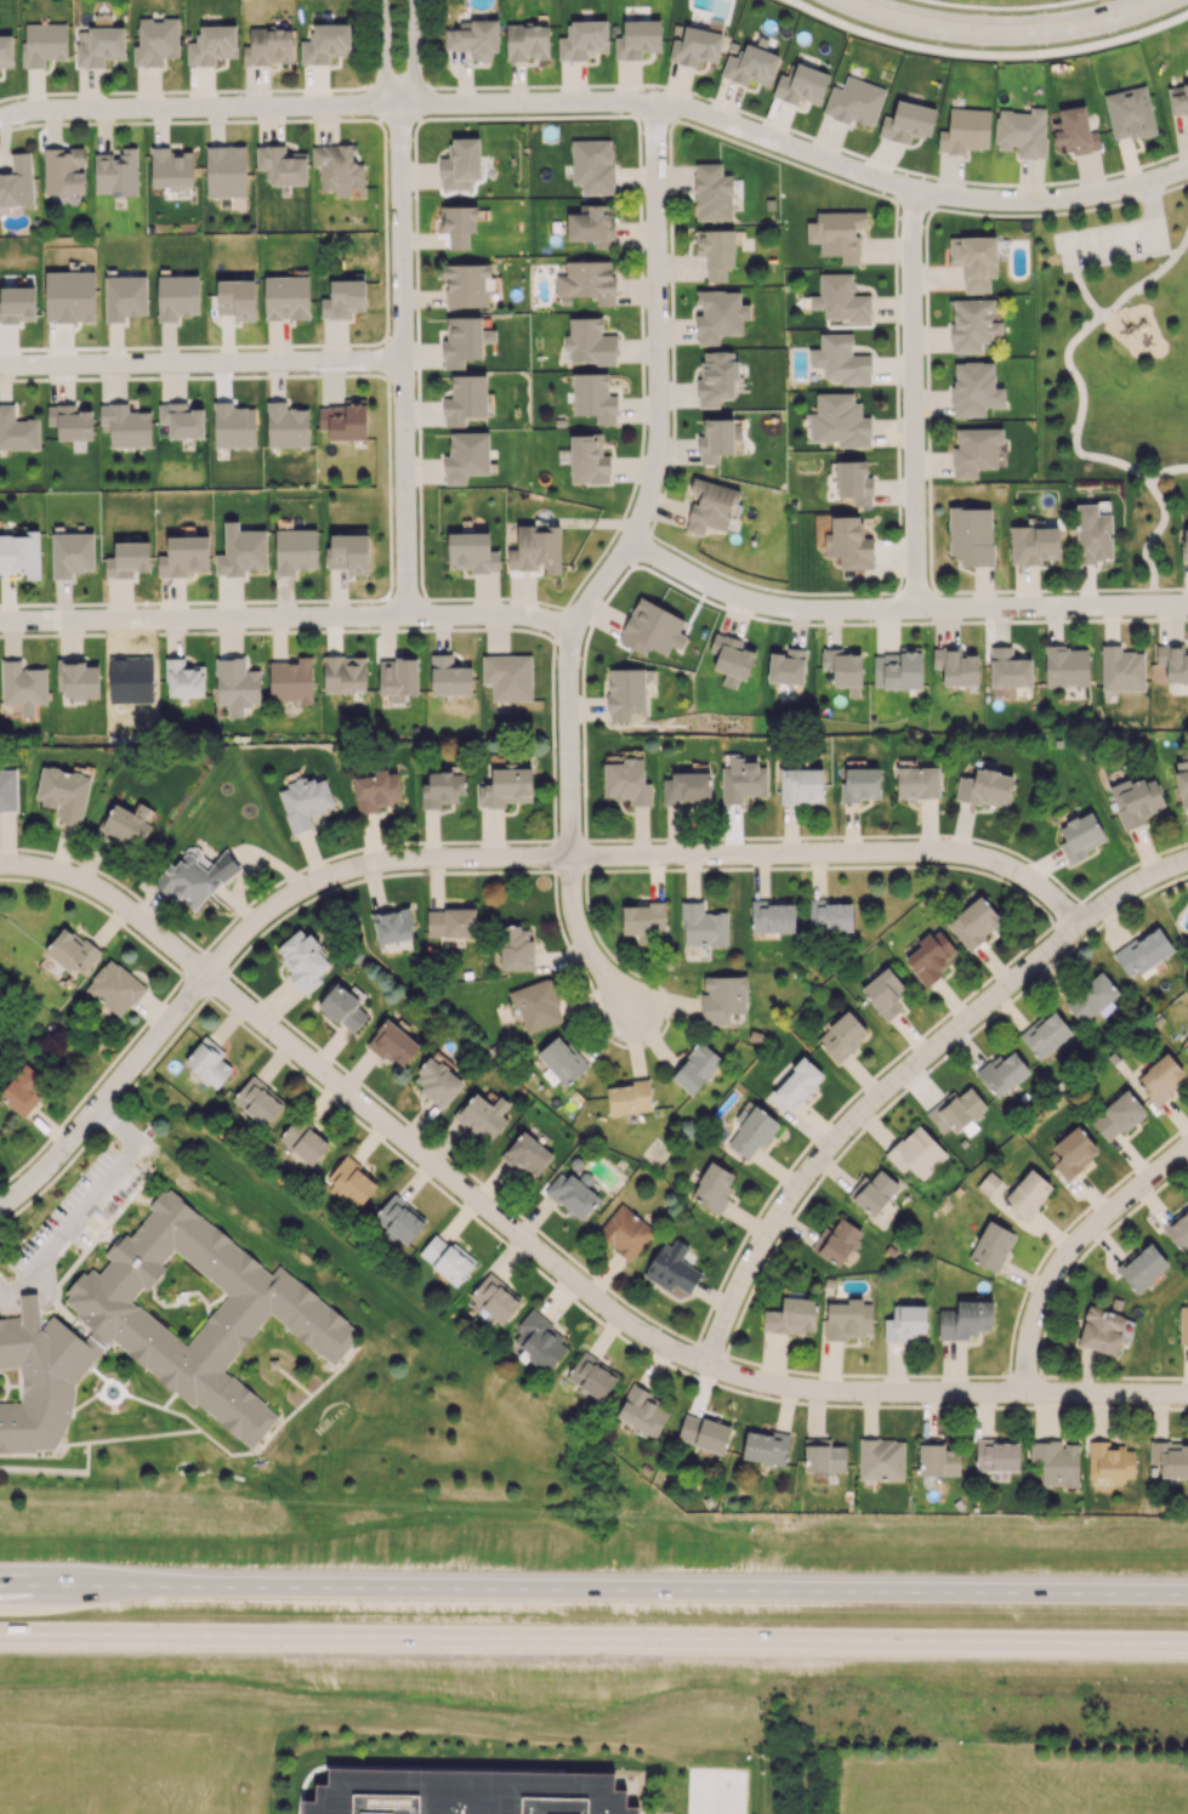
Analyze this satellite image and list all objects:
road: (1005, 32)
building: (474, 39)
building: (582, 39)
building: (637, 39)
building: (155, 41)
building: (527, 41)
building: (42, 42)
building: (325, 42)
building: (212, 44)
building: (98, 45)
building: (695, 45)
building: (268, 46)
road: (995, 46)
building: (6, 51)
road: (411, 53)
road: (383, 55)
building: (750, 66)
building: (801, 84)
building: (1178, 98)
building: (854, 101)
road: (603, 103)
building: (1129, 113)
building: (908, 121)
building: (965, 130)
building: (1074, 131)
building: (1022, 132)
building: (460, 164)
building: (280, 165)
building: (592, 165)
building: (170, 167)
building: (337, 167)
building: (63, 170)
building: (115, 171)
building: (226, 171)
building: (17, 182)
building: (712, 192)
building: (457, 224)
building: (591, 226)
road: (1129, 231)
building: (837, 233)
parking lot: (1112, 241)
road: (1161, 246)
building: (716, 251)
road: (1113, 258)
building: (974, 260)
building: (587, 280)
building: (465, 284)
road: (1080, 285)
building: (69, 296)
building: (177, 296)
building: (125, 297)
building: (285, 297)
building: (237, 298)
building: (343, 298)
building: (840, 298)
building: (17, 305)
building: (718, 314)
street lamp: (1096, 317)
building: (972, 324)
building: (464, 341)
building: (589, 341)
building: (840, 359)
road: (402, 360)
park: (1116, 360)
road: (200, 362)
road: (1074, 376)
building: (716, 377)
building: (974, 388)
building: (593, 397)
building: (465, 399)
road: (913, 399)
building: (181, 420)
building: (343, 420)
building: (839, 420)
building: (70, 421)
building: (125, 425)
building: (233, 425)
building: (286, 425)
building: (17, 430)
building: (715, 440)
building: (974, 450)
building: (466, 456)
building: (587, 459)
building: (854, 482)
road: (647, 491)
building: (710, 506)
road: (1155, 533)
building: (1092, 534)
building: (971, 535)
building: (1034, 544)
building: (1184, 544)
building: (536, 548)
building: (240, 550)
building: (295, 550)
building: (471, 552)
building: (21, 553)
building: (72, 553)
building: (348, 553)
building: (183, 556)
building: (127, 559)
road: (1085, 585)
road: (1136, 588)
road: (900, 609)
road: (288, 618)
building: (652, 629)
building: (732, 658)
building: (1172, 661)
building: (786, 666)
building: (955, 666)
building: (1065, 666)
building: (1008, 667)
building: (842, 669)
building: (898, 669)
building: (1121, 669)
building: (343, 673)
building: (449, 676)
building: (507, 677)
building: (76, 678)
building: (183, 678)
building: (397, 678)
building: (291, 681)
building: (23, 686)
building: (235, 686)
building: (625, 693)
building: (741, 780)
building: (626, 781)
building: (1182, 781)
building: (917, 783)
building: (860, 784)
building: (801, 785)
building: (506, 786)
building: (686, 787)
building: (985, 787)
building: (375, 789)
building: (442, 789)
building: (7, 790)
building: (63, 792)
building: (1136, 800)
building: (305, 802)
building: (126, 825)
building: (1080, 836)
road: (633, 860)
building: (194, 877)
road: (1130, 887)
building: (830, 915)
building: (772, 916)
building: (642, 920)
building: (450, 922)
building: (973, 922)
building: (392, 925)
building: (703, 926)
road: (584, 944)
building: (515, 948)
building: (70, 949)
building: (1142, 951)
building: (930, 956)
building: (302, 960)
building: (114, 988)
building: (883, 993)
building: (1090, 997)
building: (722, 999)
building: (536, 1005)
building: (342, 1007)
building: (1045, 1034)
building: (842, 1036)
building: (1186, 1042)
building: (393, 1044)
building: (559, 1062)
building: (208, 1063)
building: (695, 1068)
building: (1001, 1073)
building: (1160, 1077)
building: (436, 1081)
building: (796, 1084)
building: (22, 1090)
building: (629, 1097)
road: (108, 1099)
building: (257, 1101)
building: (956, 1110)
building: (483, 1113)
building: (1116, 1116)
road: (859, 1121)
building: (751, 1131)
building: (303, 1141)
building: (1072, 1151)
building: (915, 1153)
building: (527, 1154)
building: (351, 1183)
building: (714, 1187)
building: (872, 1192)
building: (572, 1194)
building: (1027, 1194)
road: (90, 1207)
building: (399, 1218)
building: (1178, 1229)
building: (625, 1232)
building: (836, 1241)
building: (991, 1246)
road: (1069, 1253)
building: (447, 1259)
road: (545, 1261)
building: (1141, 1266)
building: (671, 1267)
road: (5, 1293)
building: (495, 1298)
building: (791, 1317)
building: (848, 1319)
building: (965, 1319)
building: (905, 1321)
building: (1183, 1324)
building: (159, 1330)
building: (1102, 1330)
building: (539, 1342)
building: (592, 1376)
building: (642, 1411)
building: (703, 1433)
building: (764, 1446)
building: (823, 1455)
building: (996, 1455)
building: (1170, 1457)
building: (881, 1458)
building: (937, 1458)
building: (1110, 1461)
building: (1056, 1462)
road: (593, 1588)
road: (593, 1637)
building: (464, 1791)

